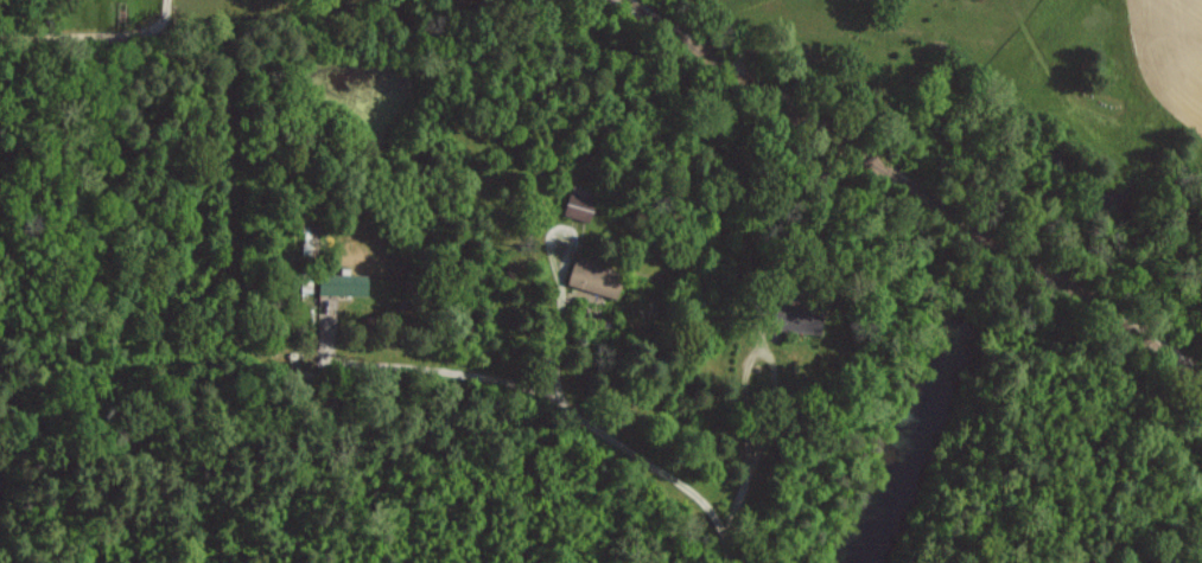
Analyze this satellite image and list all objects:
railway: (916, 187)
building: (583, 204)
building: (597, 277)
building: (344, 283)
road: (438, 370)
road: (599, 422)
road: (753, 462)

